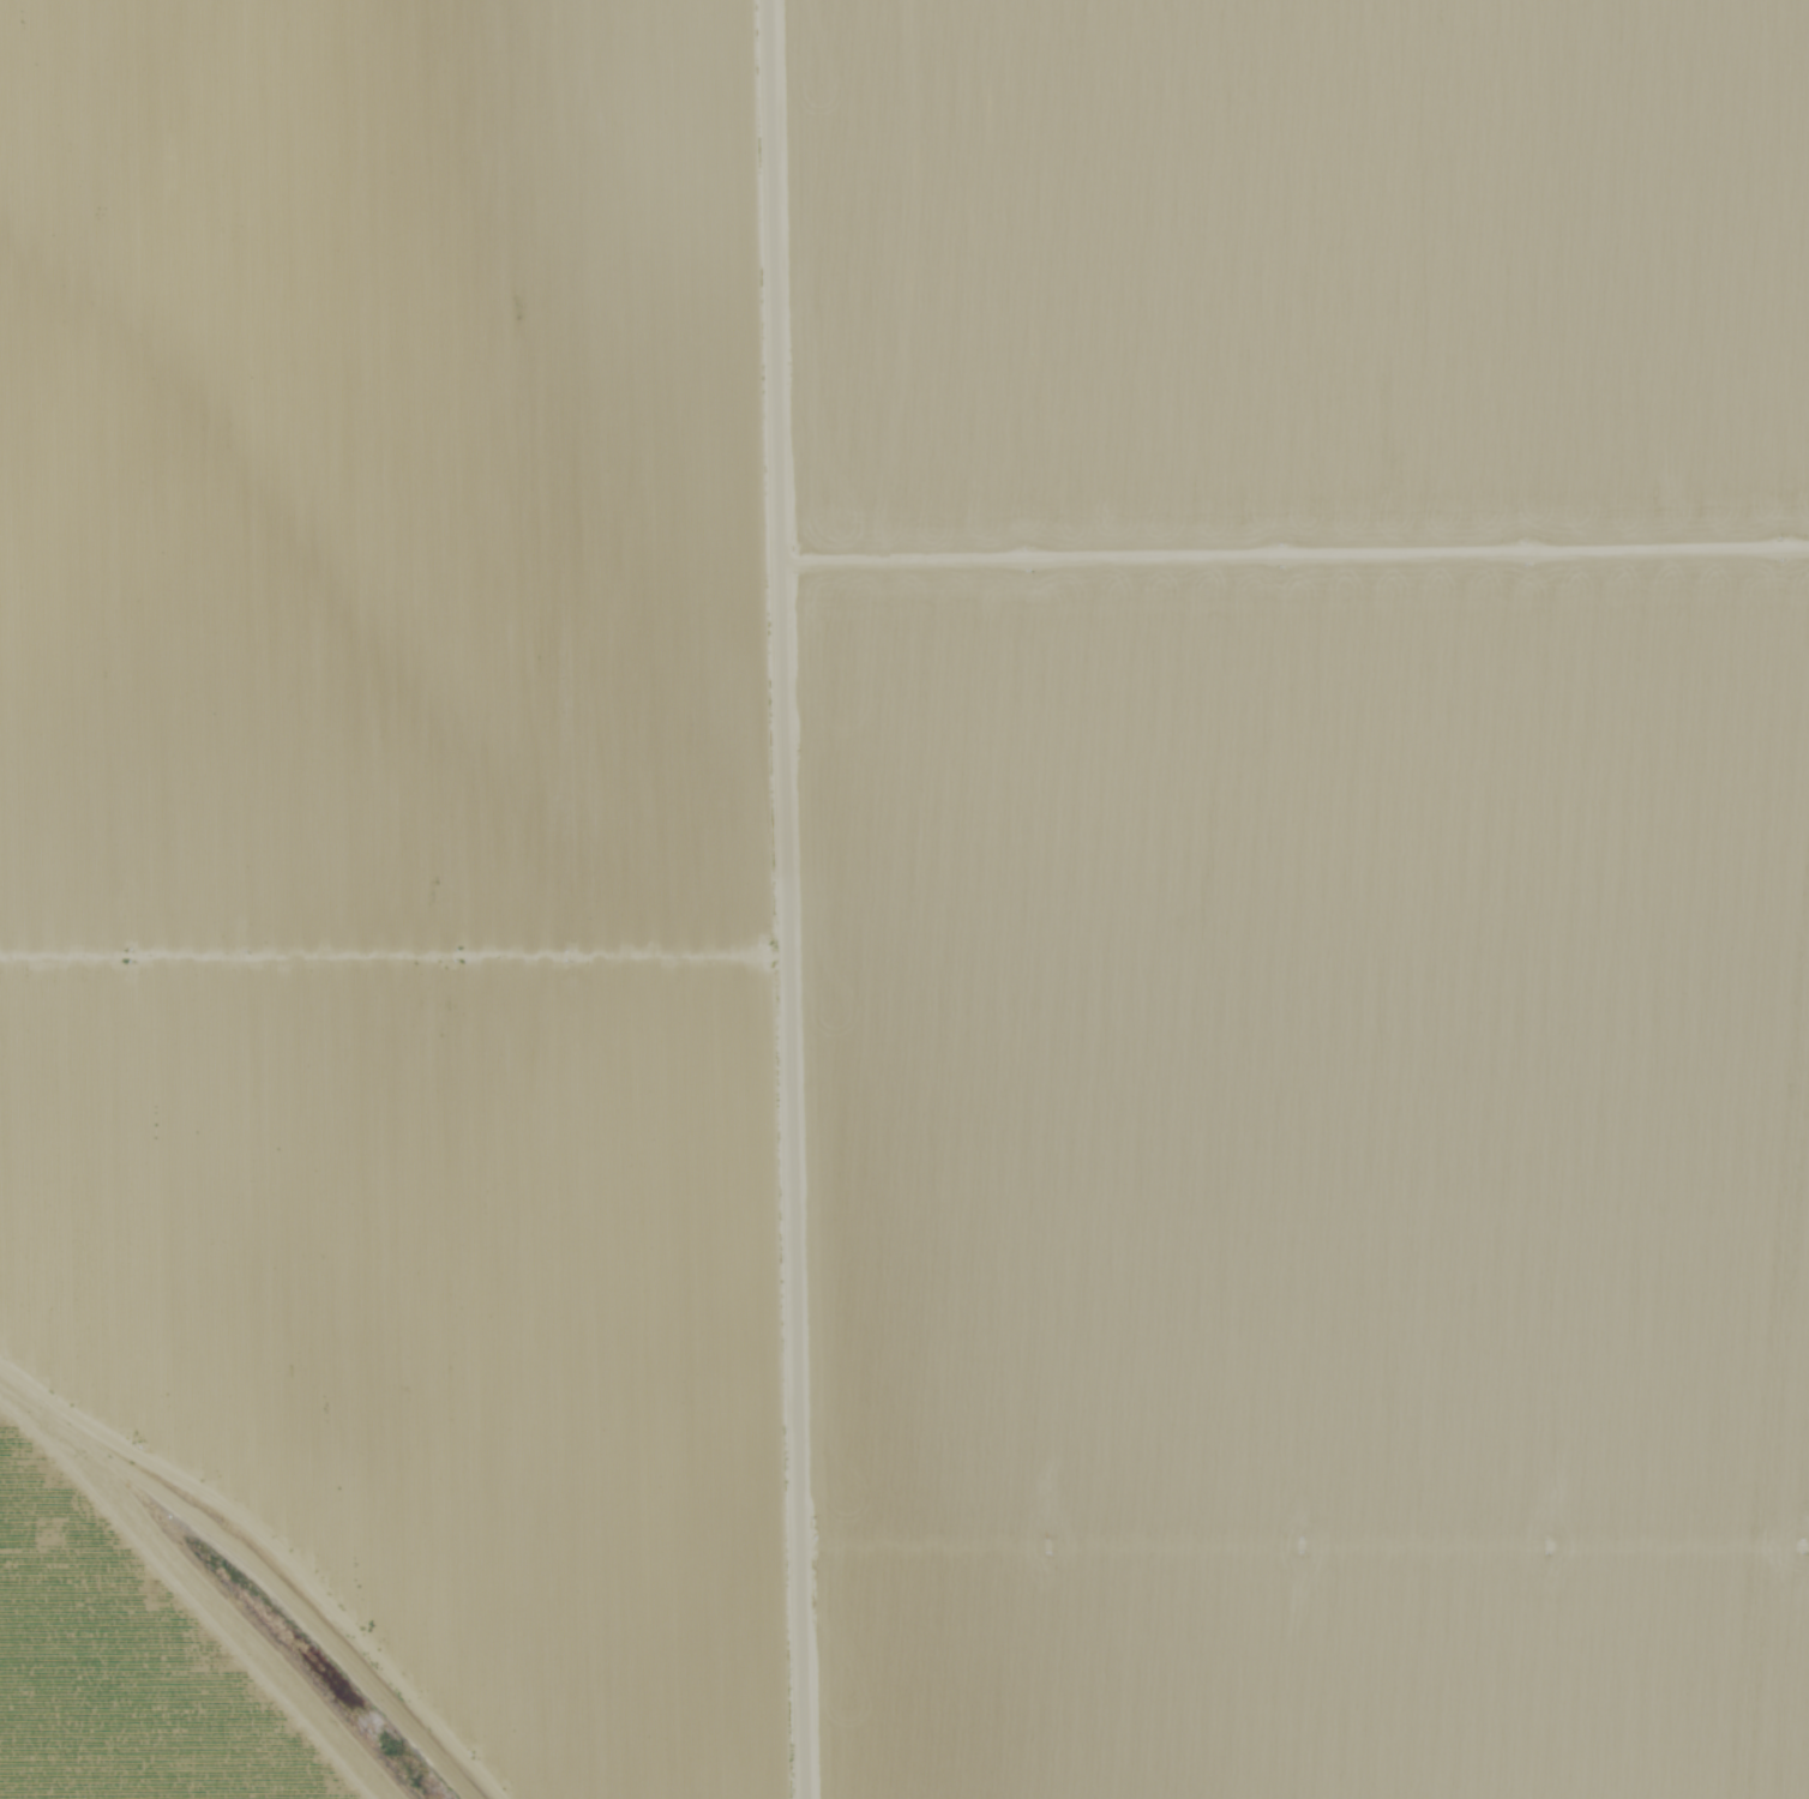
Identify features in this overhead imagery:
crop: (1316, 293)
crop: (408, 840)
road: (791, 898)
crop: (1323, 1191)
crop: (172, 1649)

